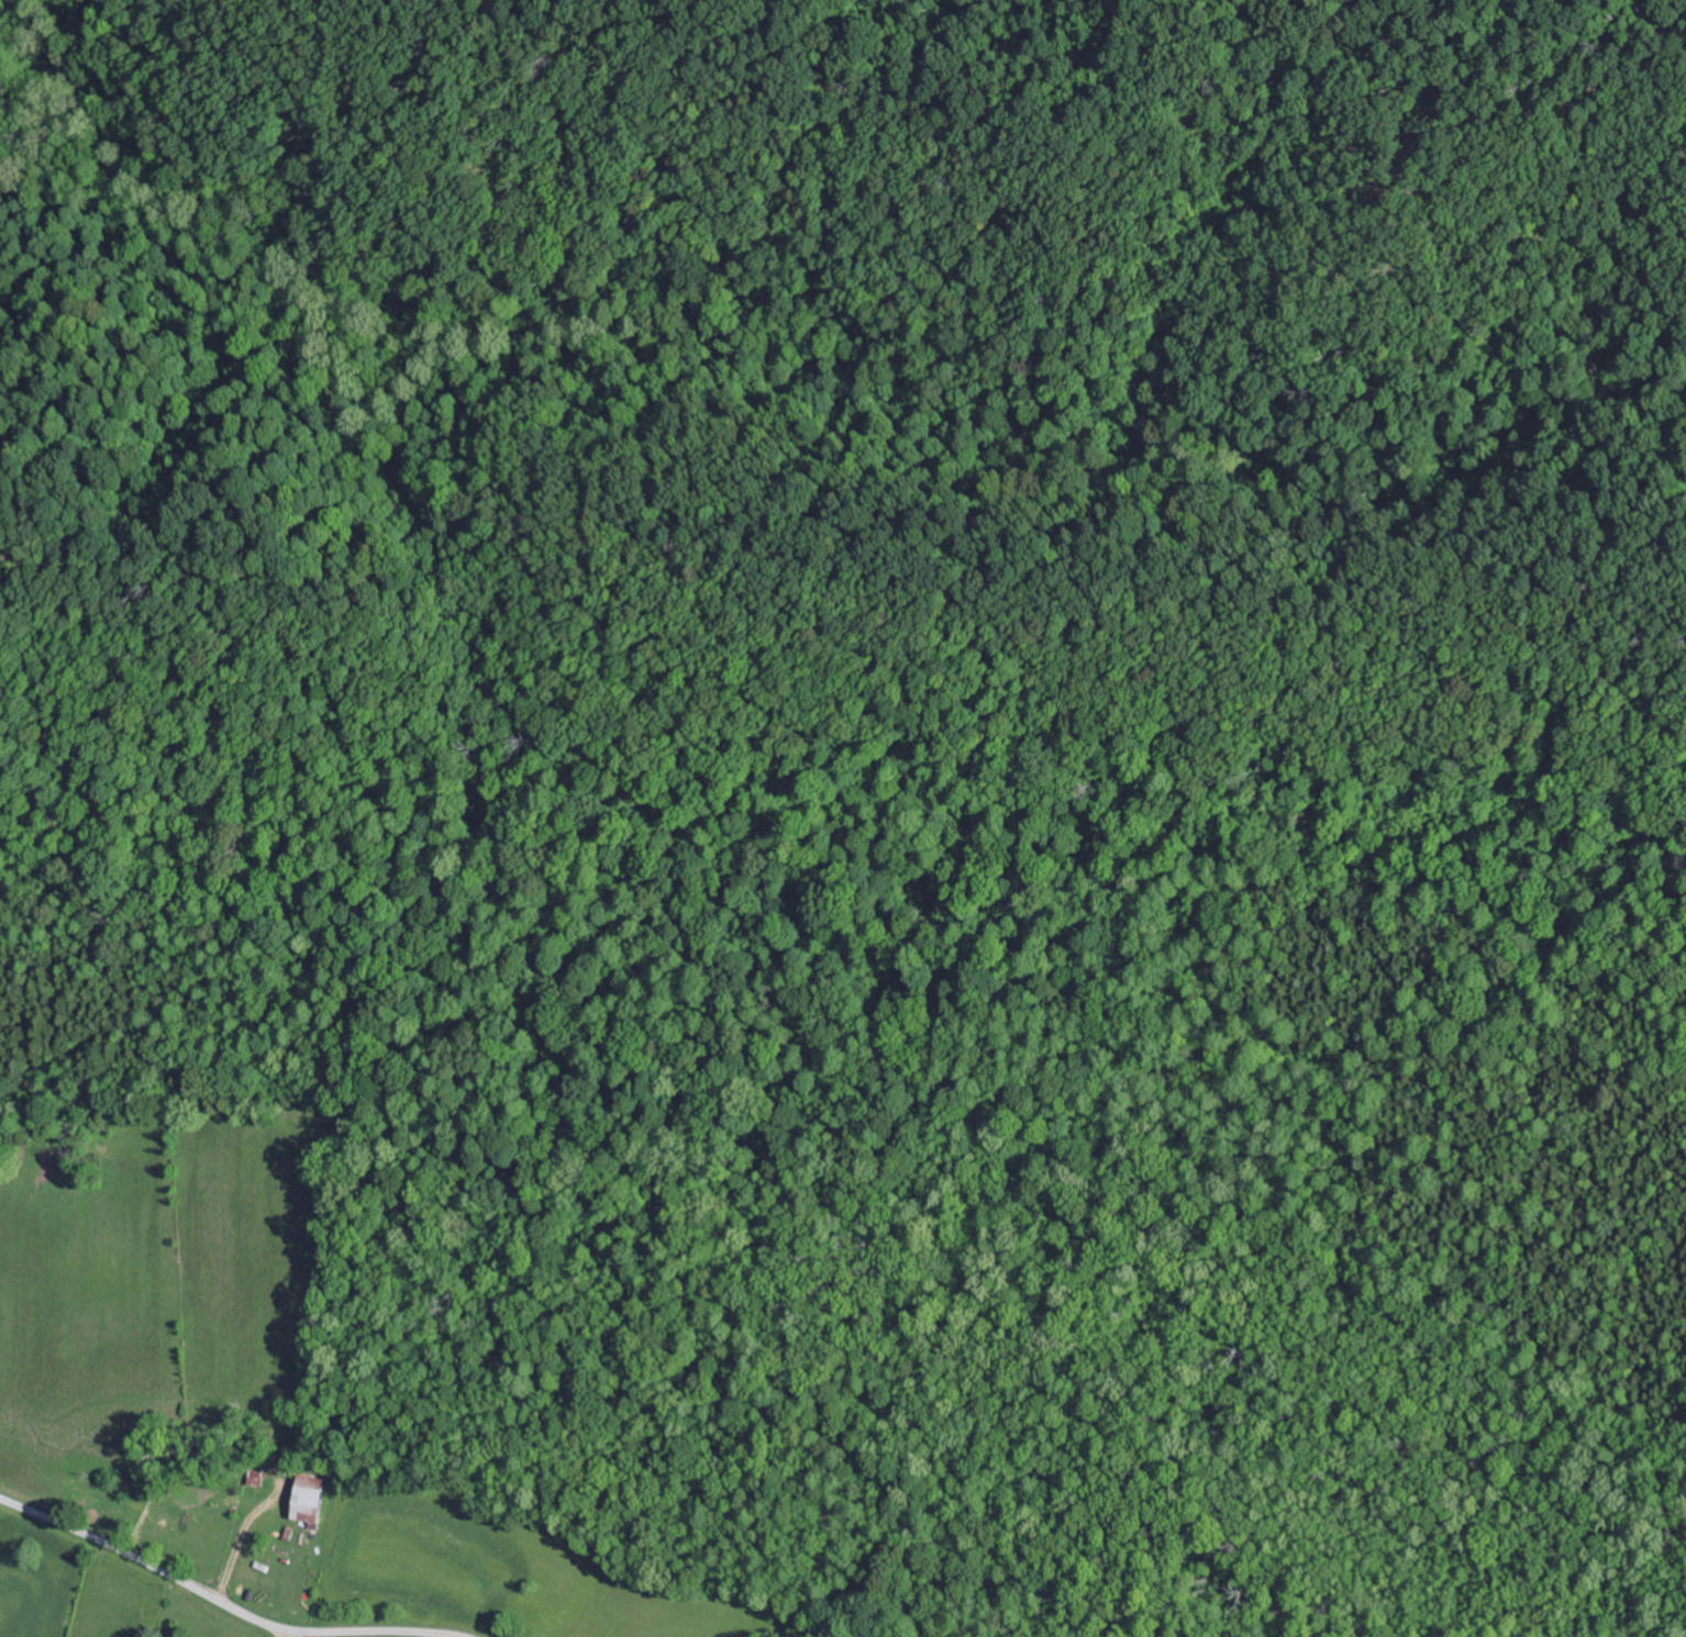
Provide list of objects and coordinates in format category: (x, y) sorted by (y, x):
building: (306, 1499)
road: (224, 1602)

